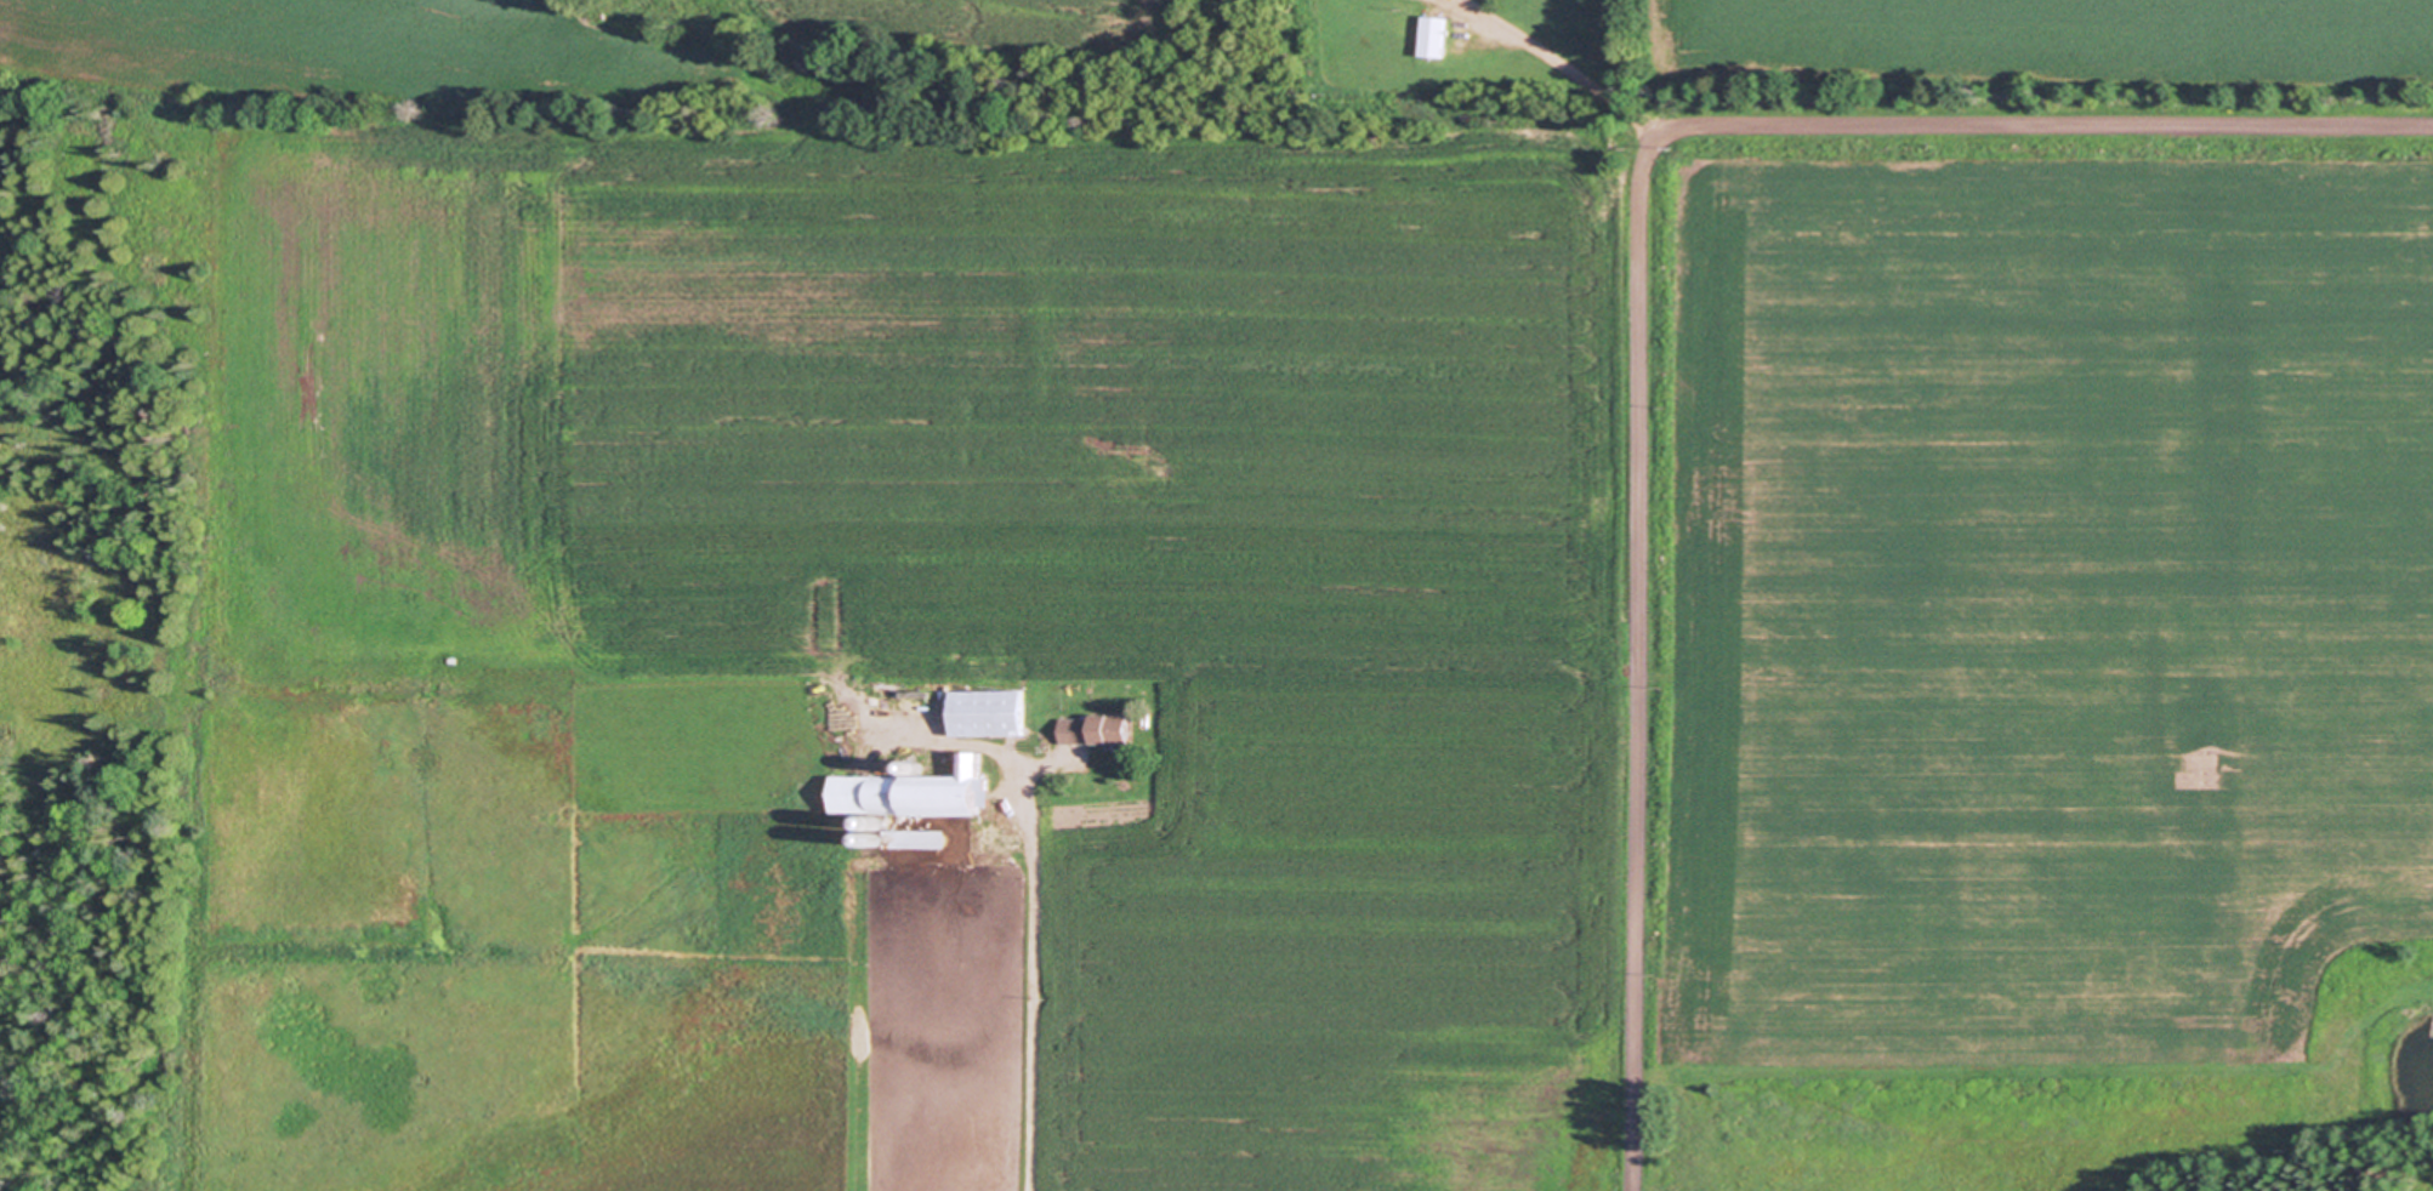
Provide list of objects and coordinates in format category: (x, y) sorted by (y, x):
building: (1436, 36)
road: (1559, 62)
road: (1636, 266)
building: (990, 713)
building: (1112, 729)
building: (1073, 731)
building: (916, 793)
building: (905, 837)
road: (1033, 982)
road: (1632, 1187)

